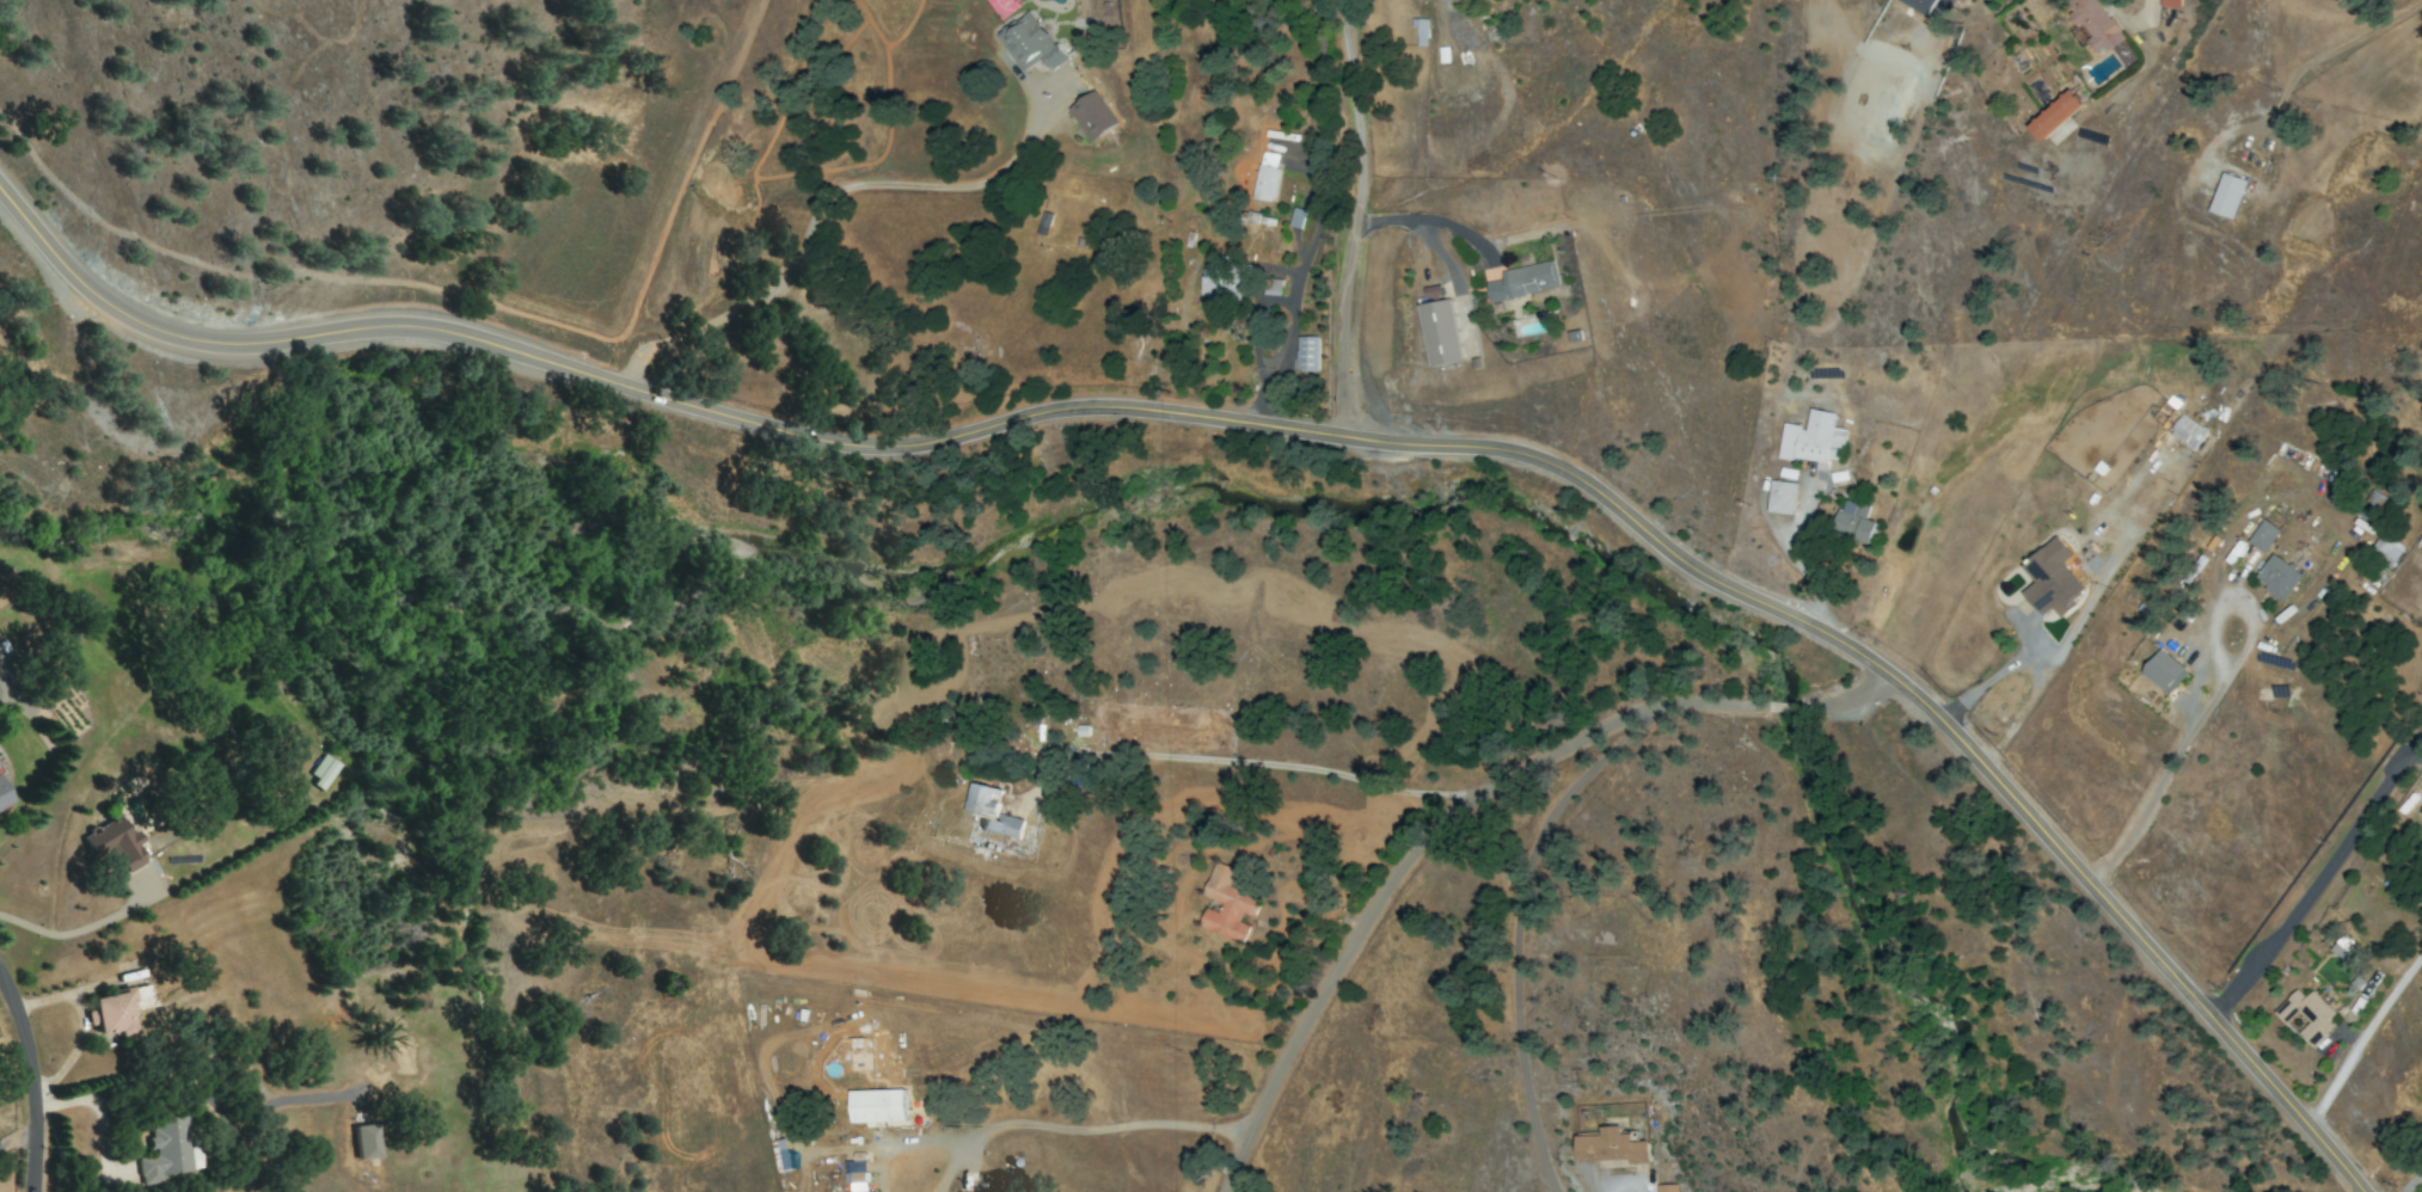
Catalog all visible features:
building: (2171, 4)
building: (1920, 5)
building: (2093, 23)
road: (1329, 25)
building: (1421, 32)
building: (1030, 42)
building: (2055, 115)
building: (1093, 116)
building: (1264, 177)
building: (2227, 195)
building: (1295, 217)
road: (1430, 219)
road: (1354, 220)
building: (1044, 223)
building: (1221, 278)
road: (1296, 279)
building: (1523, 281)
building: (1270, 287)
road: (470, 299)
building: (1439, 332)
building: (1306, 354)
building: (2178, 425)
road: (1292, 435)
building: (1813, 440)
building: (1780, 497)
building: (1854, 523)
building: (2263, 535)
building: (2385, 549)
road: (1797, 561)
building: (2277, 577)
building: (2052, 579)
road: (2077, 627)
building: (2164, 671)
road: (2207, 703)
road: (1853, 705)
road: (1788, 711)
road: (2414, 760)
road: (1286, 766)
building: (280, 767)
building: (320, 772)
building: (2, 799)
building: (983, 800)
building: (1002, 827)
building: (114, 844)
road: (1418, 852)
road: (2319, 878)
building: (1227, 904)
road: (76, 929)
road: (1514, 932)
building: (2346, 951)
building: (118, 1009)
building: (2307, 1014)
road: (2362, 1038)
road: (27, 1088)
building: (878, 1106)
road: (1097, 1129)
road: (16, 1142)
building: (364, 1142)
building: (1612, 1147)
building: (158, 1149)
building: (859, 1181)
road: (2410, 1182)
building: (1668, 1187)

